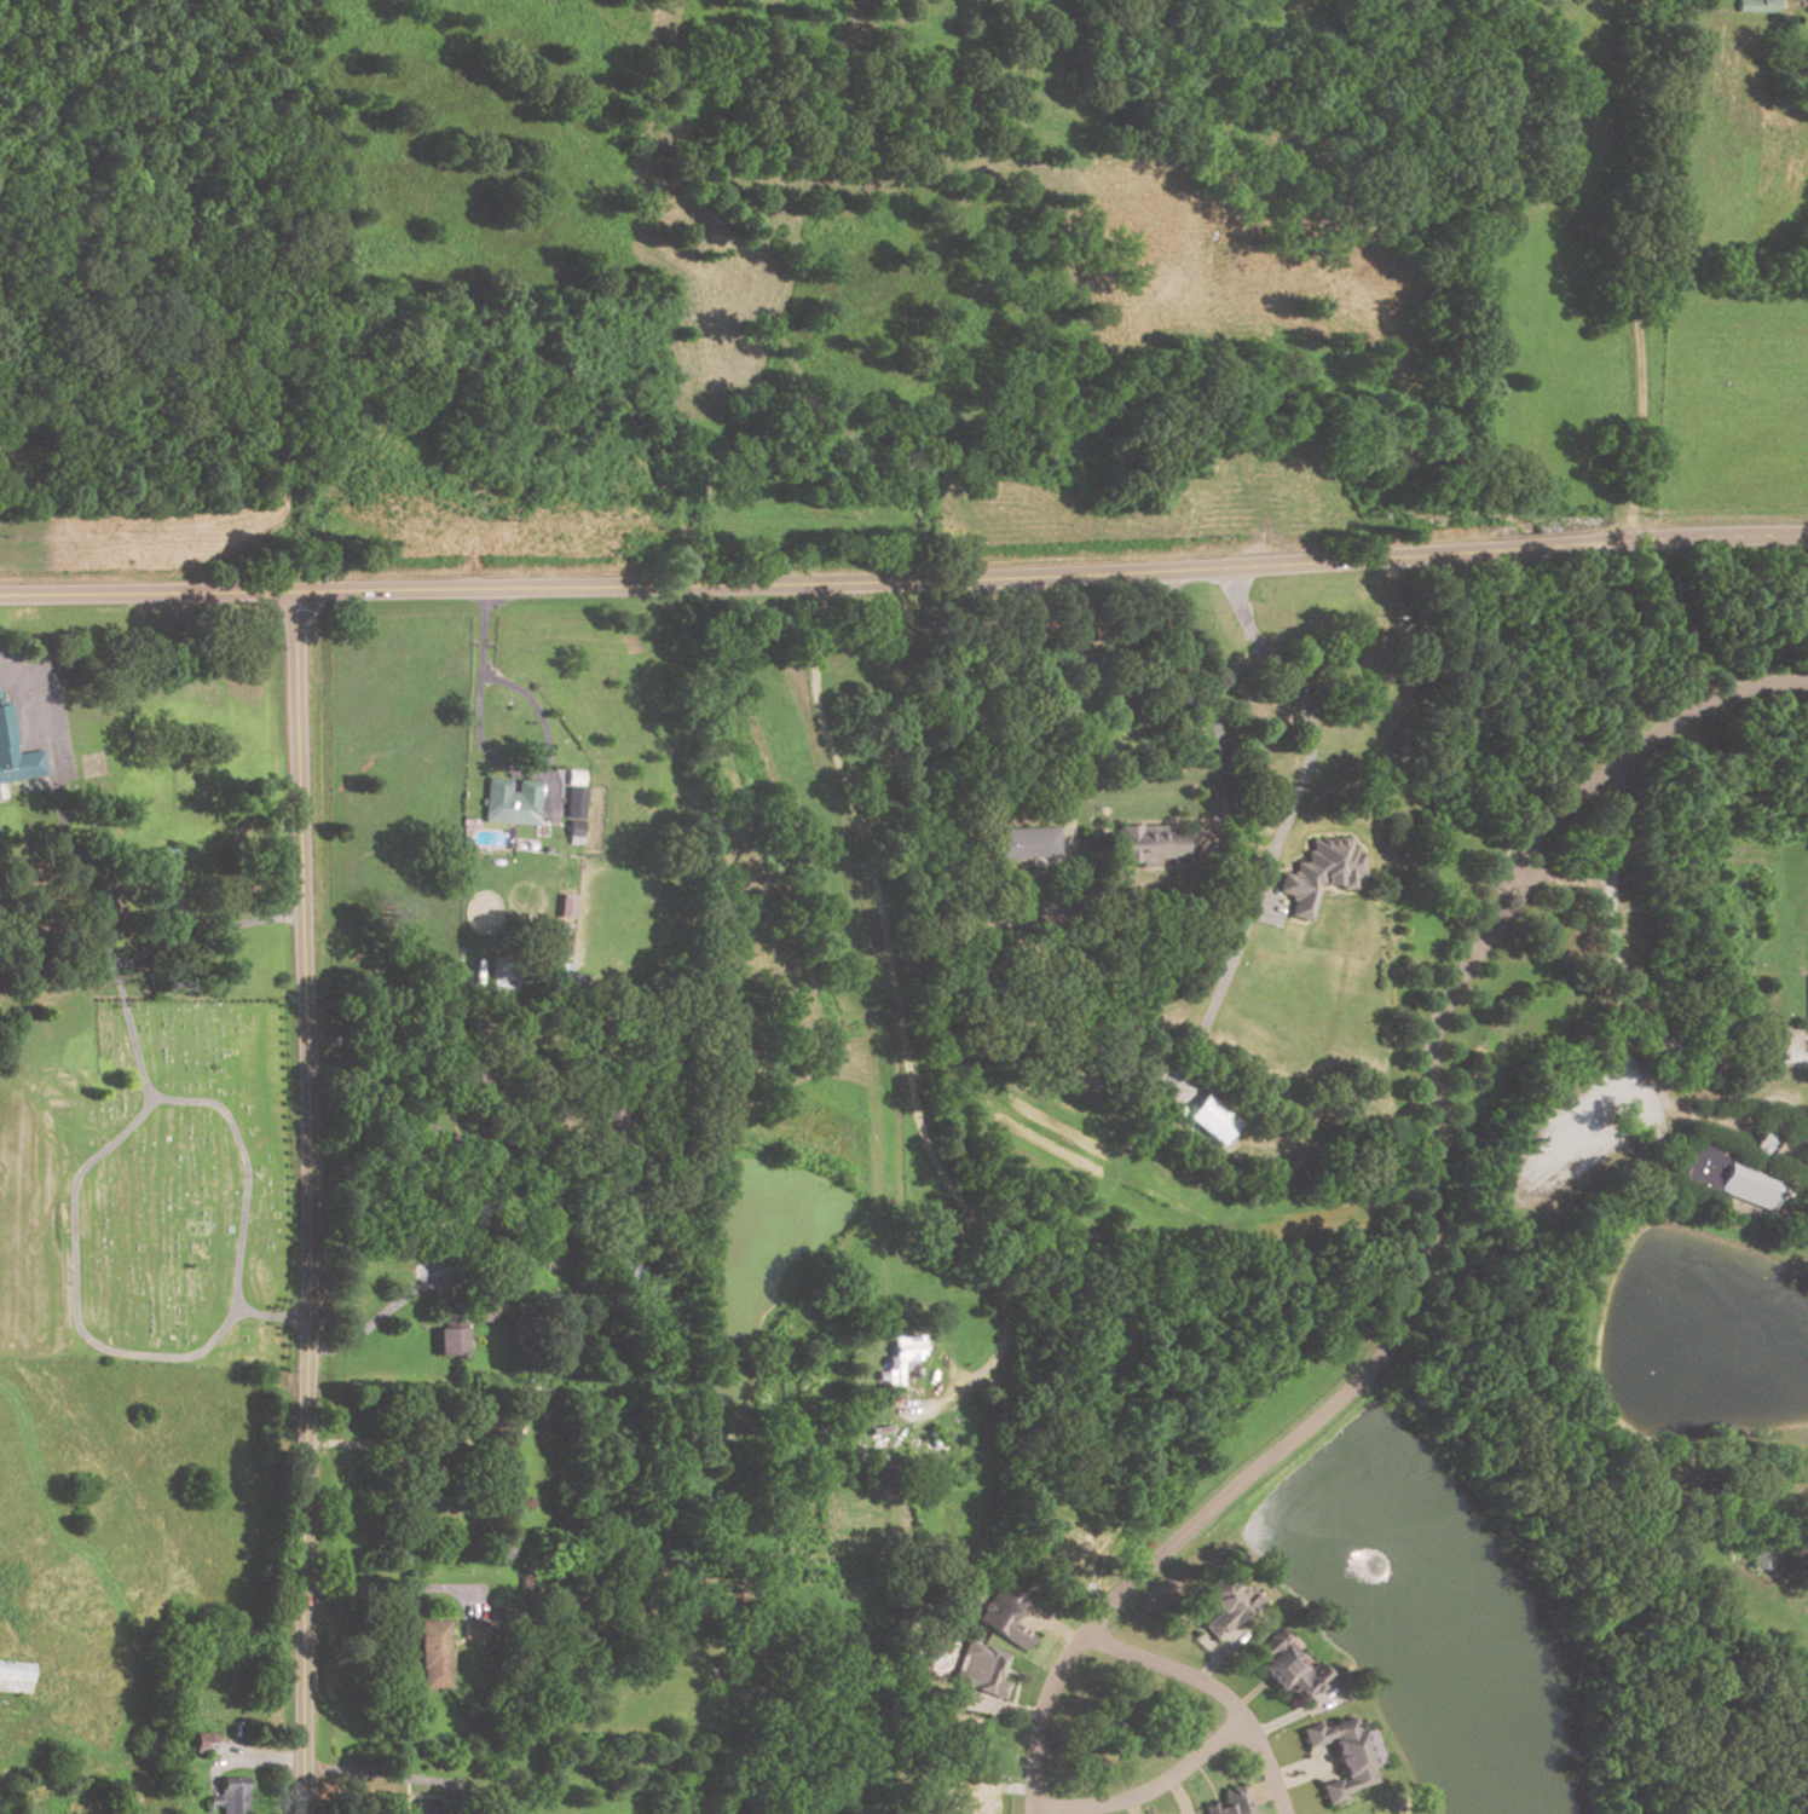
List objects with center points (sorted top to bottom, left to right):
building: (1757, 7)
road: (1633, 268)
road: (905, 579)
road: (1677, 622)
road: (1212, 711)
building: (6, 727)
road: (543, 741)
road: (1063, 782)
building: (571, 796)
road: (67, 804)
building: (510, 804)
building: (27, 808)
road: (1283, 825)
building: (1021, 843)
building: (1144, 845)
building: (1319, 872)
building: (163, 880)
road: (1565, 882)
building: (566, 905)
building: (977, 972)
building: (503, 978)
road: (1621, 982)
road: (901, 1029)
road: (360, 1044)
road: (158, 1097)
road: (1600, 1105)
building: (1208, 1120)
building: (612, 1121)
road: (1802, 1125)
parking lot: (1577, 1136)
road: (1757, 1138)
building: (1760, 1142)
road: (1797, 1154)
building: (1699, 1166)
road: (1791, 1179)
building: (1745, 1182)
road: (311, 1201)
road: (1425, 1223)
road: (74, 1294)
road: (382, 1312)
building: (479, 1312)
building: (446, 1342)
building: (903, 1357)
road: (371, 1445)
building: (1760, 1554)
road: (1793, 1567)
road: (397, 1590)
building: (1223, 1604)
building: (1001, 1618)
road: (1052, 1628)
building: (474, 1631)
road: (1209, 1647)
building: (432, 1656)
road: (1217, 1656)
building: (1283, 1666)
building: (978, 1671)
road: (1215, 1689)
road: (1009, 1709)
road: (1289, 1716)
building: (206, 1744)
building: (1344, 1756)
road: (250, 1760)
road: (1298, 1773)
road: (391, 1777)
road: (1146, 1790)
building: (231, 1796)
road: (1176, 1796)
building: (1228, 1803)
road: (1131, 1806)
building: (421, 1809)
building: (1390, 1813)

